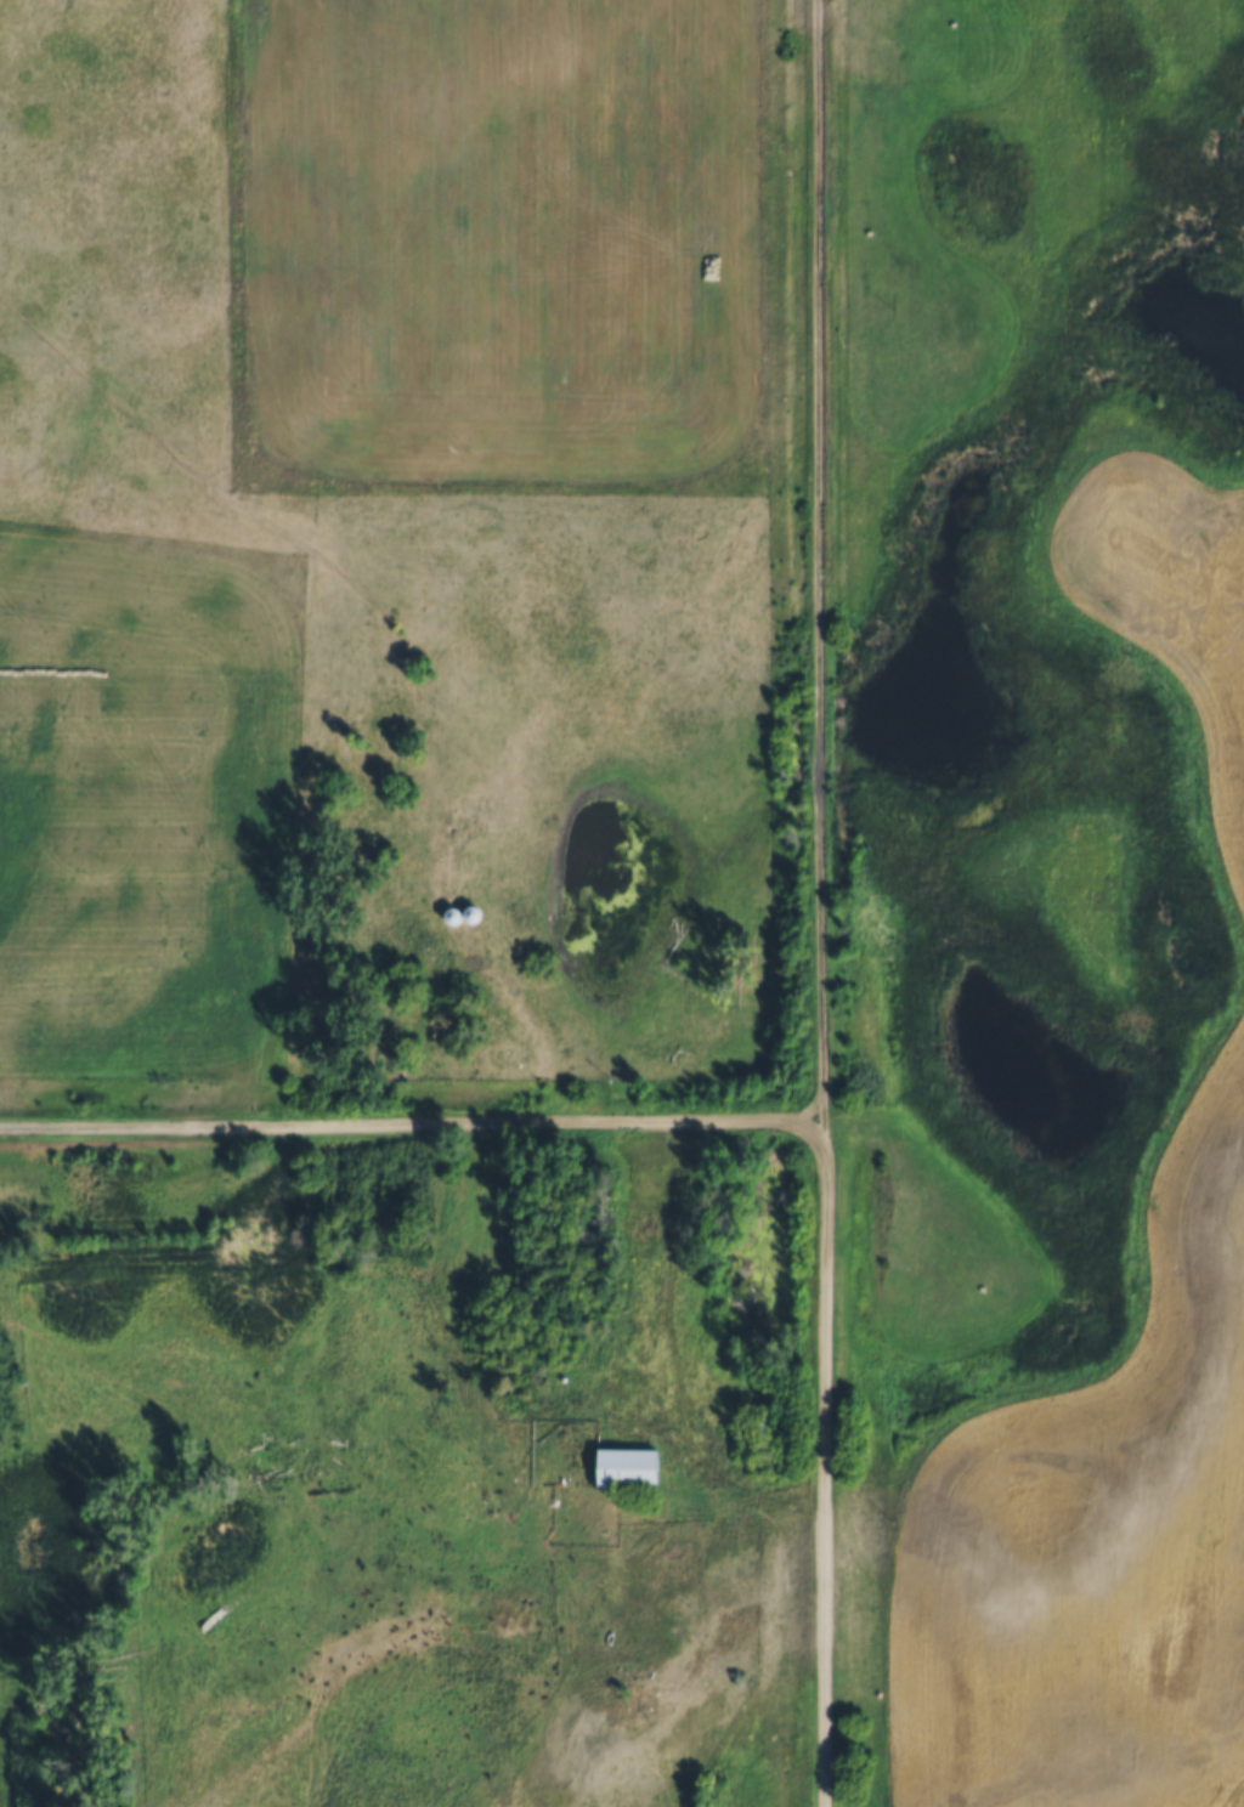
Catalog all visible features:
road: (821, 555)
building: (468, 912)
silo: (468, 912)
building: (446, 914)
silo: (446, 914)
road: (412, 1118)
building: (635, 1224)
road: (826, 1458)
building: (622, 1466)

